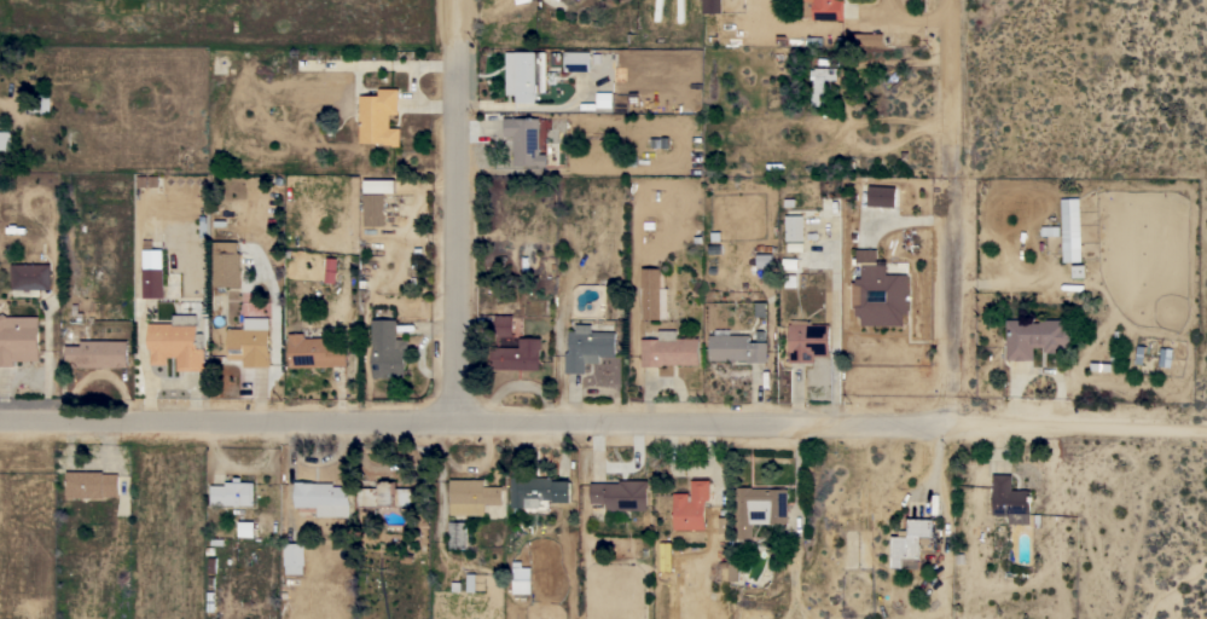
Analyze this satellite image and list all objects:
building: (556, 0)
building: (712, 6)
building: (824, 8)
building: (657, 10)
road: (462, 23)
building: (855, 39)
building: (578, 60)
building: (526, 74)
building: (820, 80)
building: (604, 99)
building: (378, 117)
building: (5, 139)
building: (524, 140)
building: (379, 185)
building: (882, 196)
building: (373, 209)
road: (956, 212)
building: (794, 227)
building: (1070, 230)
road: (463, 232)
building: (866, 255)
building: (762, 258)
building: (225, 266)
building: (330, 270)
building: (152, 271)
building: (29, 279)
building: (652, 294)
building: (880, 295)
building: (503, 325)
building: (1034, 337)
building: (18, 339)
building: (807, 340)
building: (178, 342)
building: (249, 342)
building: (588, 346)
building: (736, 347)
building: (388, 349)
building: (668, 349)
building: (313, 352)
building: (98, 353)
building: (517, 355)
building: (1165, 357)
road: (478, 420)
road: (1083, 428)
building: (91, 484)
building: (538, 490)
building: (232, 493)
building: (620, 494)
building: (383, 496)
building: (471, 496)
building: (323, 497)
building: (1009, 499)
building: (690, 507)
building: (760, 507)
building: (422, 516)
building: (245, 528)
building: (457, 534)
building: (910, 540)
building: (294, 557)
building: (733, 568)
building: (520, 578)
building: (471, 582)

